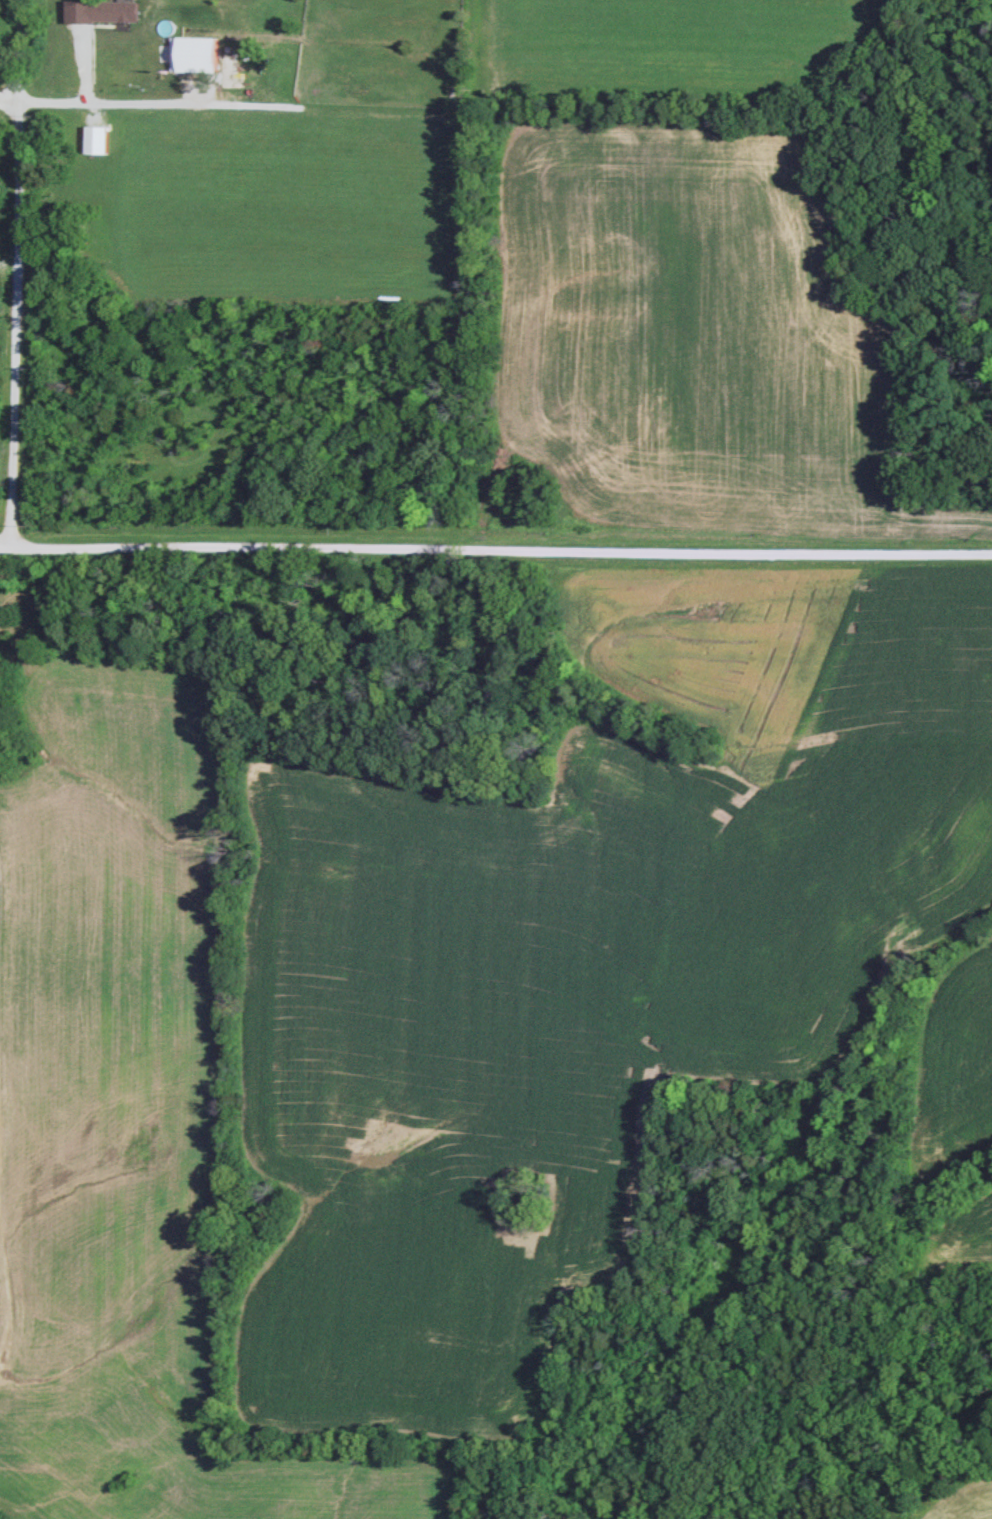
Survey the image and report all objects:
building: (116, 12)
building: (192, 55)
road: (34, 87)
building: (94, 140)
road: (13, 270)
road: (495, 548)

